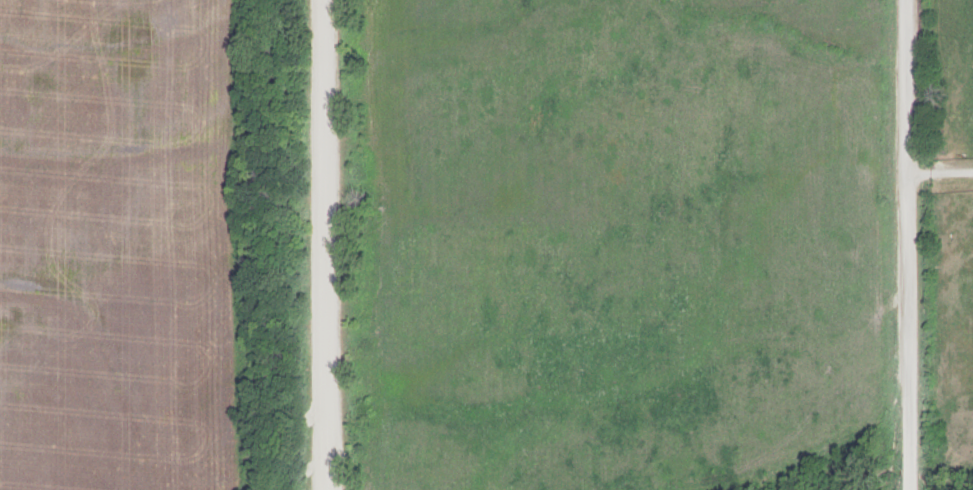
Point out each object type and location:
road: (944, 175)
road: (334, 245)
road: (916, 245)

